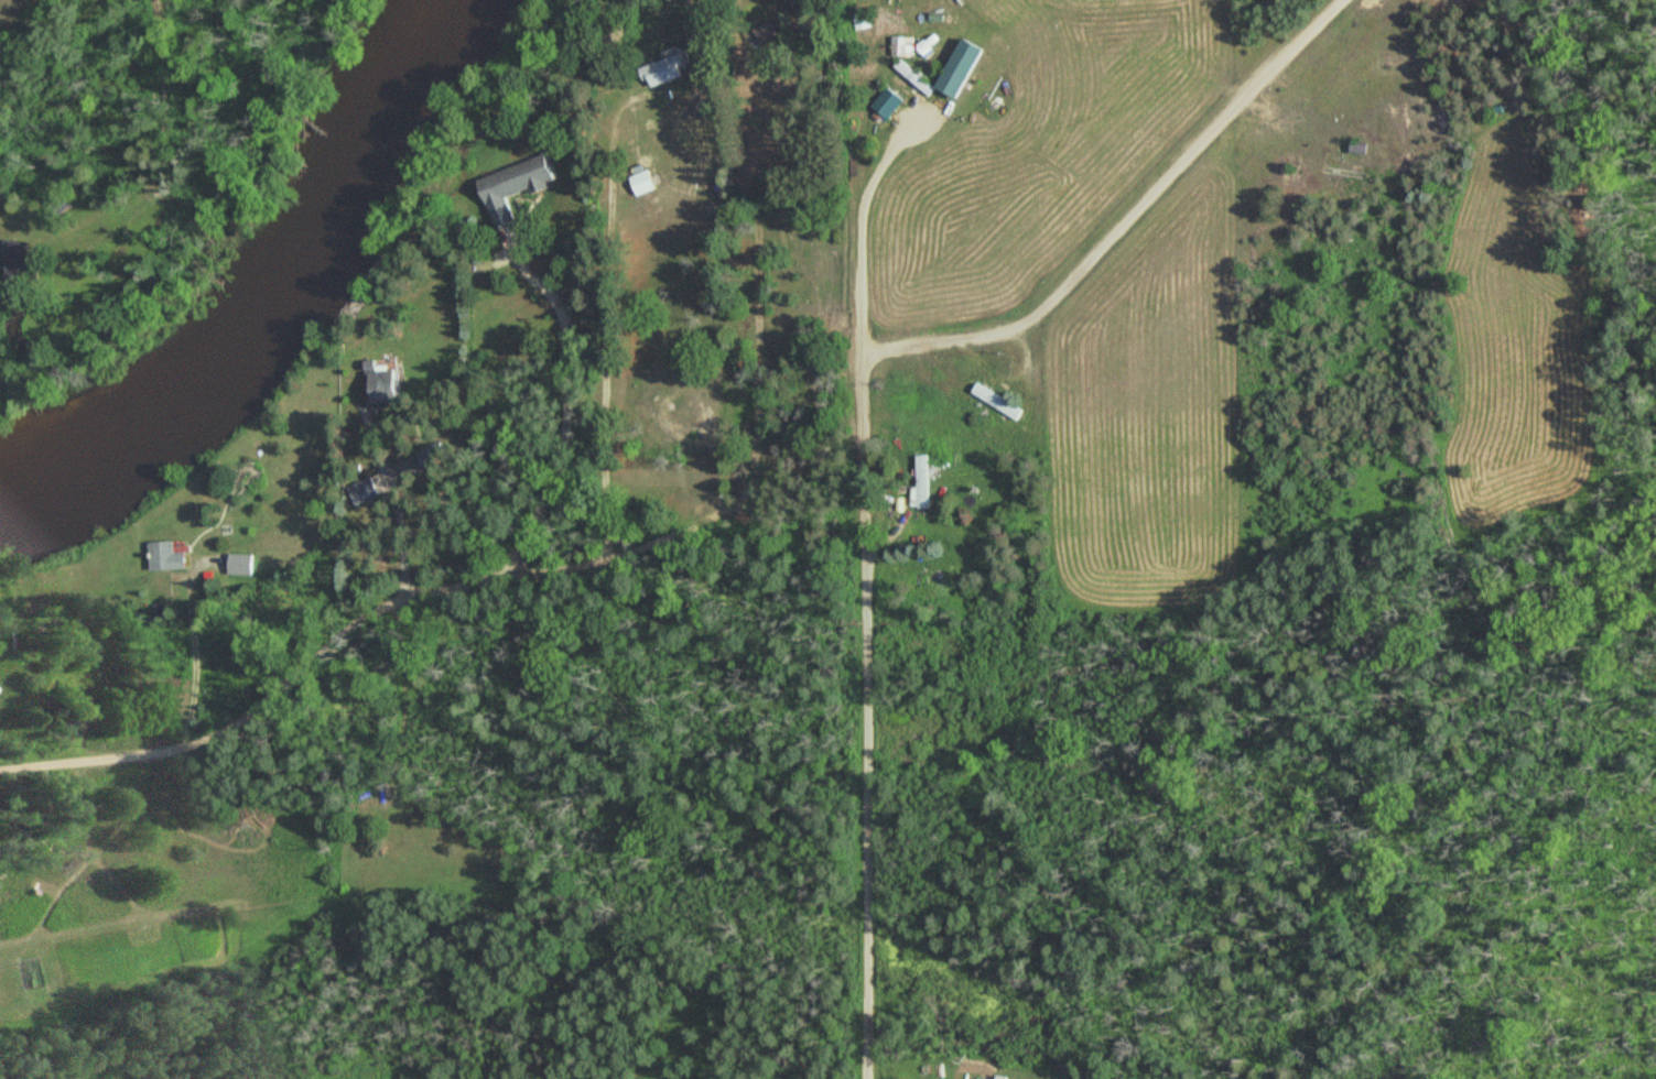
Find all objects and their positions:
building: (900, 4)
building: (766, 32)
building: (900, 45)
building: (664, 70)
building: (916, 77)
building: (889, 101)
building: (1360, 146)
building: (643, 183)
building: (516, 185)
road: (859, 230)
building: (17, 259)
river: (277, 298)
building: (383, 383)
building: (995, 400)
road: (572, 404)
road: (863, 414)
building: (434, 456)
building: (923, 481)
building: (169, 556)
building: (240, 564)
road: (315, 646)
building: (9, 698)
building: (1005, 1077)

